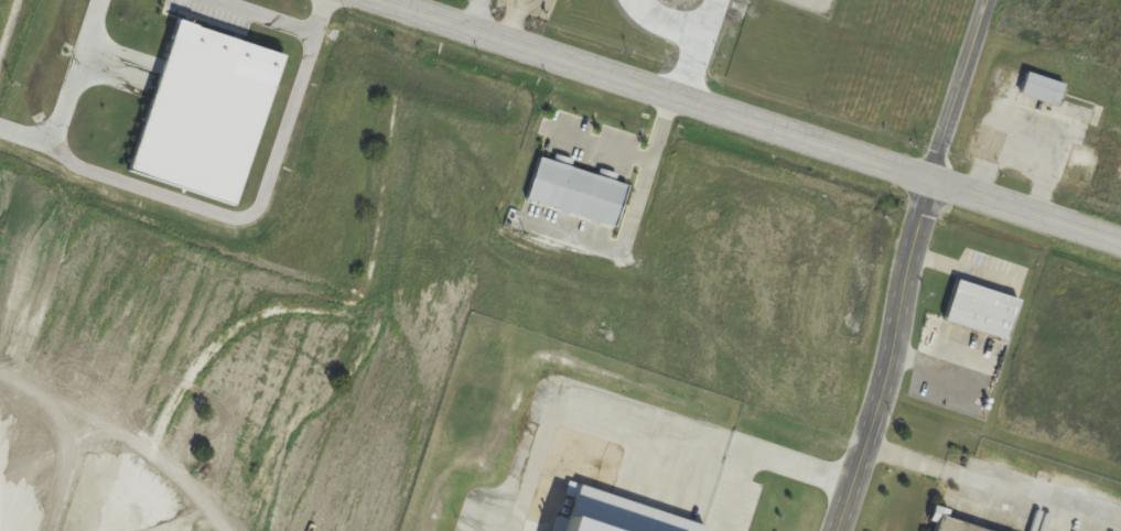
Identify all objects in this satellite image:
road: (473, 14)
road: (276, 23)
building: (1039, 88)
road: (67, 93)
road: (747, 122)
road: (596, 144)
building: (574, 191)
road: (239, 219)
road: (629, 223)
road: (912, 264)
building: (978, 310)
road: (993, 486)
building: (946, 524)

